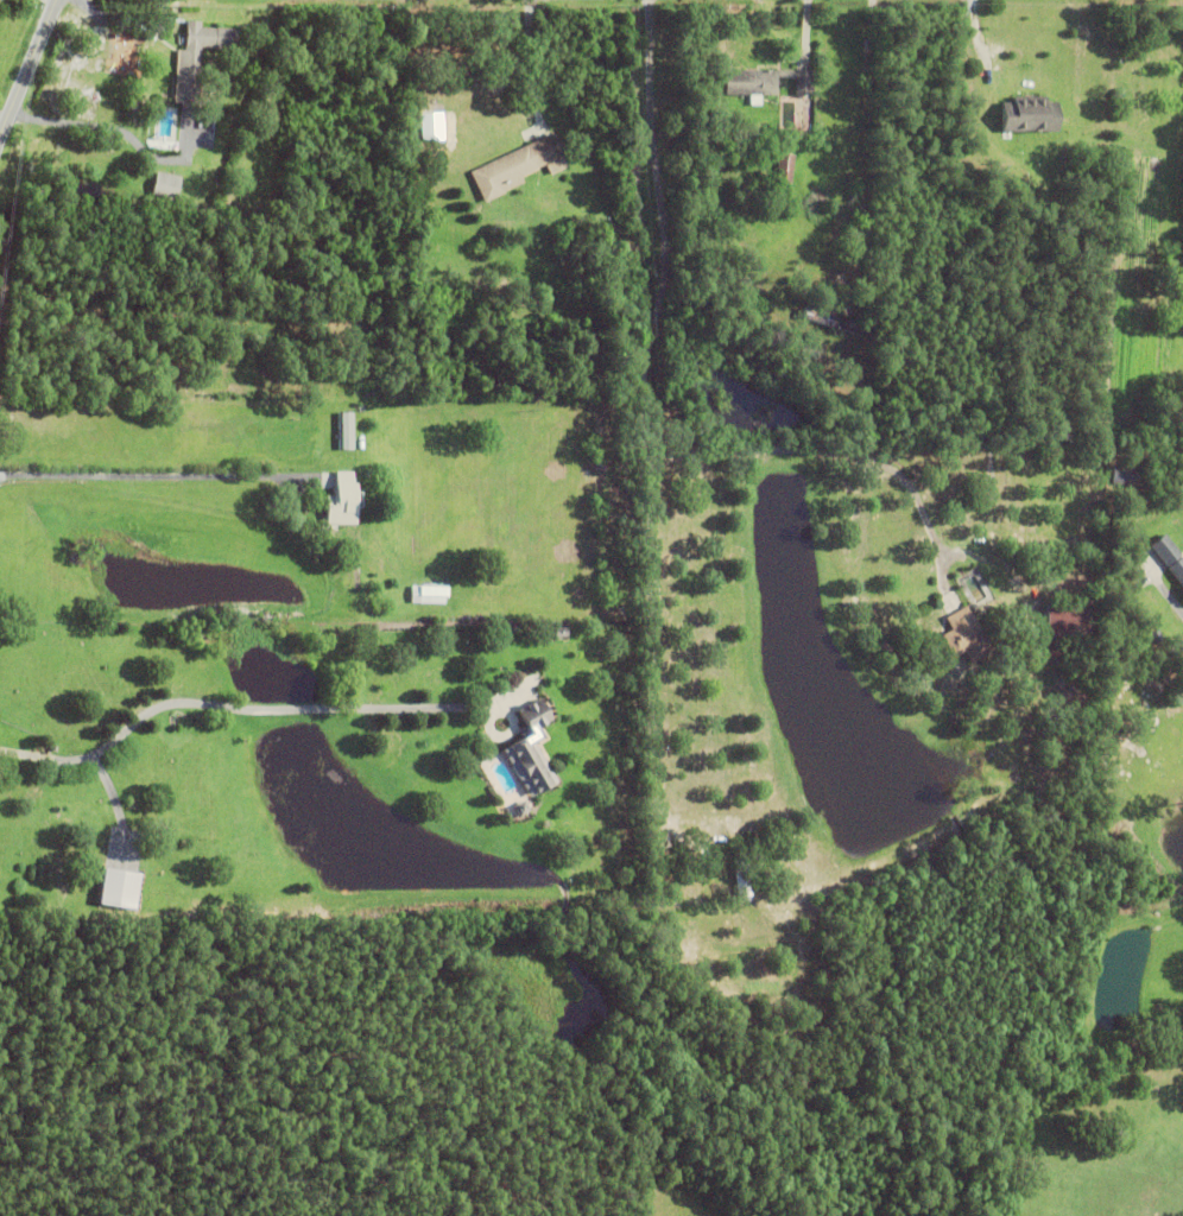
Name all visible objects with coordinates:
building: (196, 61)
road: (26, 70)
building: (765, 81)
building: (134, 106)
building: (1030, 114)
building: (789, 135)
road: (862, 140)
building: (558, 164)
building: (514, 167)
building: (784, 169)
building: (957, 170)
building: (166, 185)
building: (738, 199)
building: (207, 201)
building: (757, 240)
building: (829, 319)
road: (658, 388)
building: (344, 431)
building: (343, 465)
building: (1124, 474)
road: (151, 482)
building: (342, 501)
building: (1171, 553)
building: (479, 578)
building: (431, 601)
road: (1171, 601)
building: (1067, 621)
building: (559, 633)
building: (964, 636)
building: (1055, 648)
road: (245, 707)
building: (530, 753)
building: (520, 810)
building: (742, 882)
building: (122, 895)

